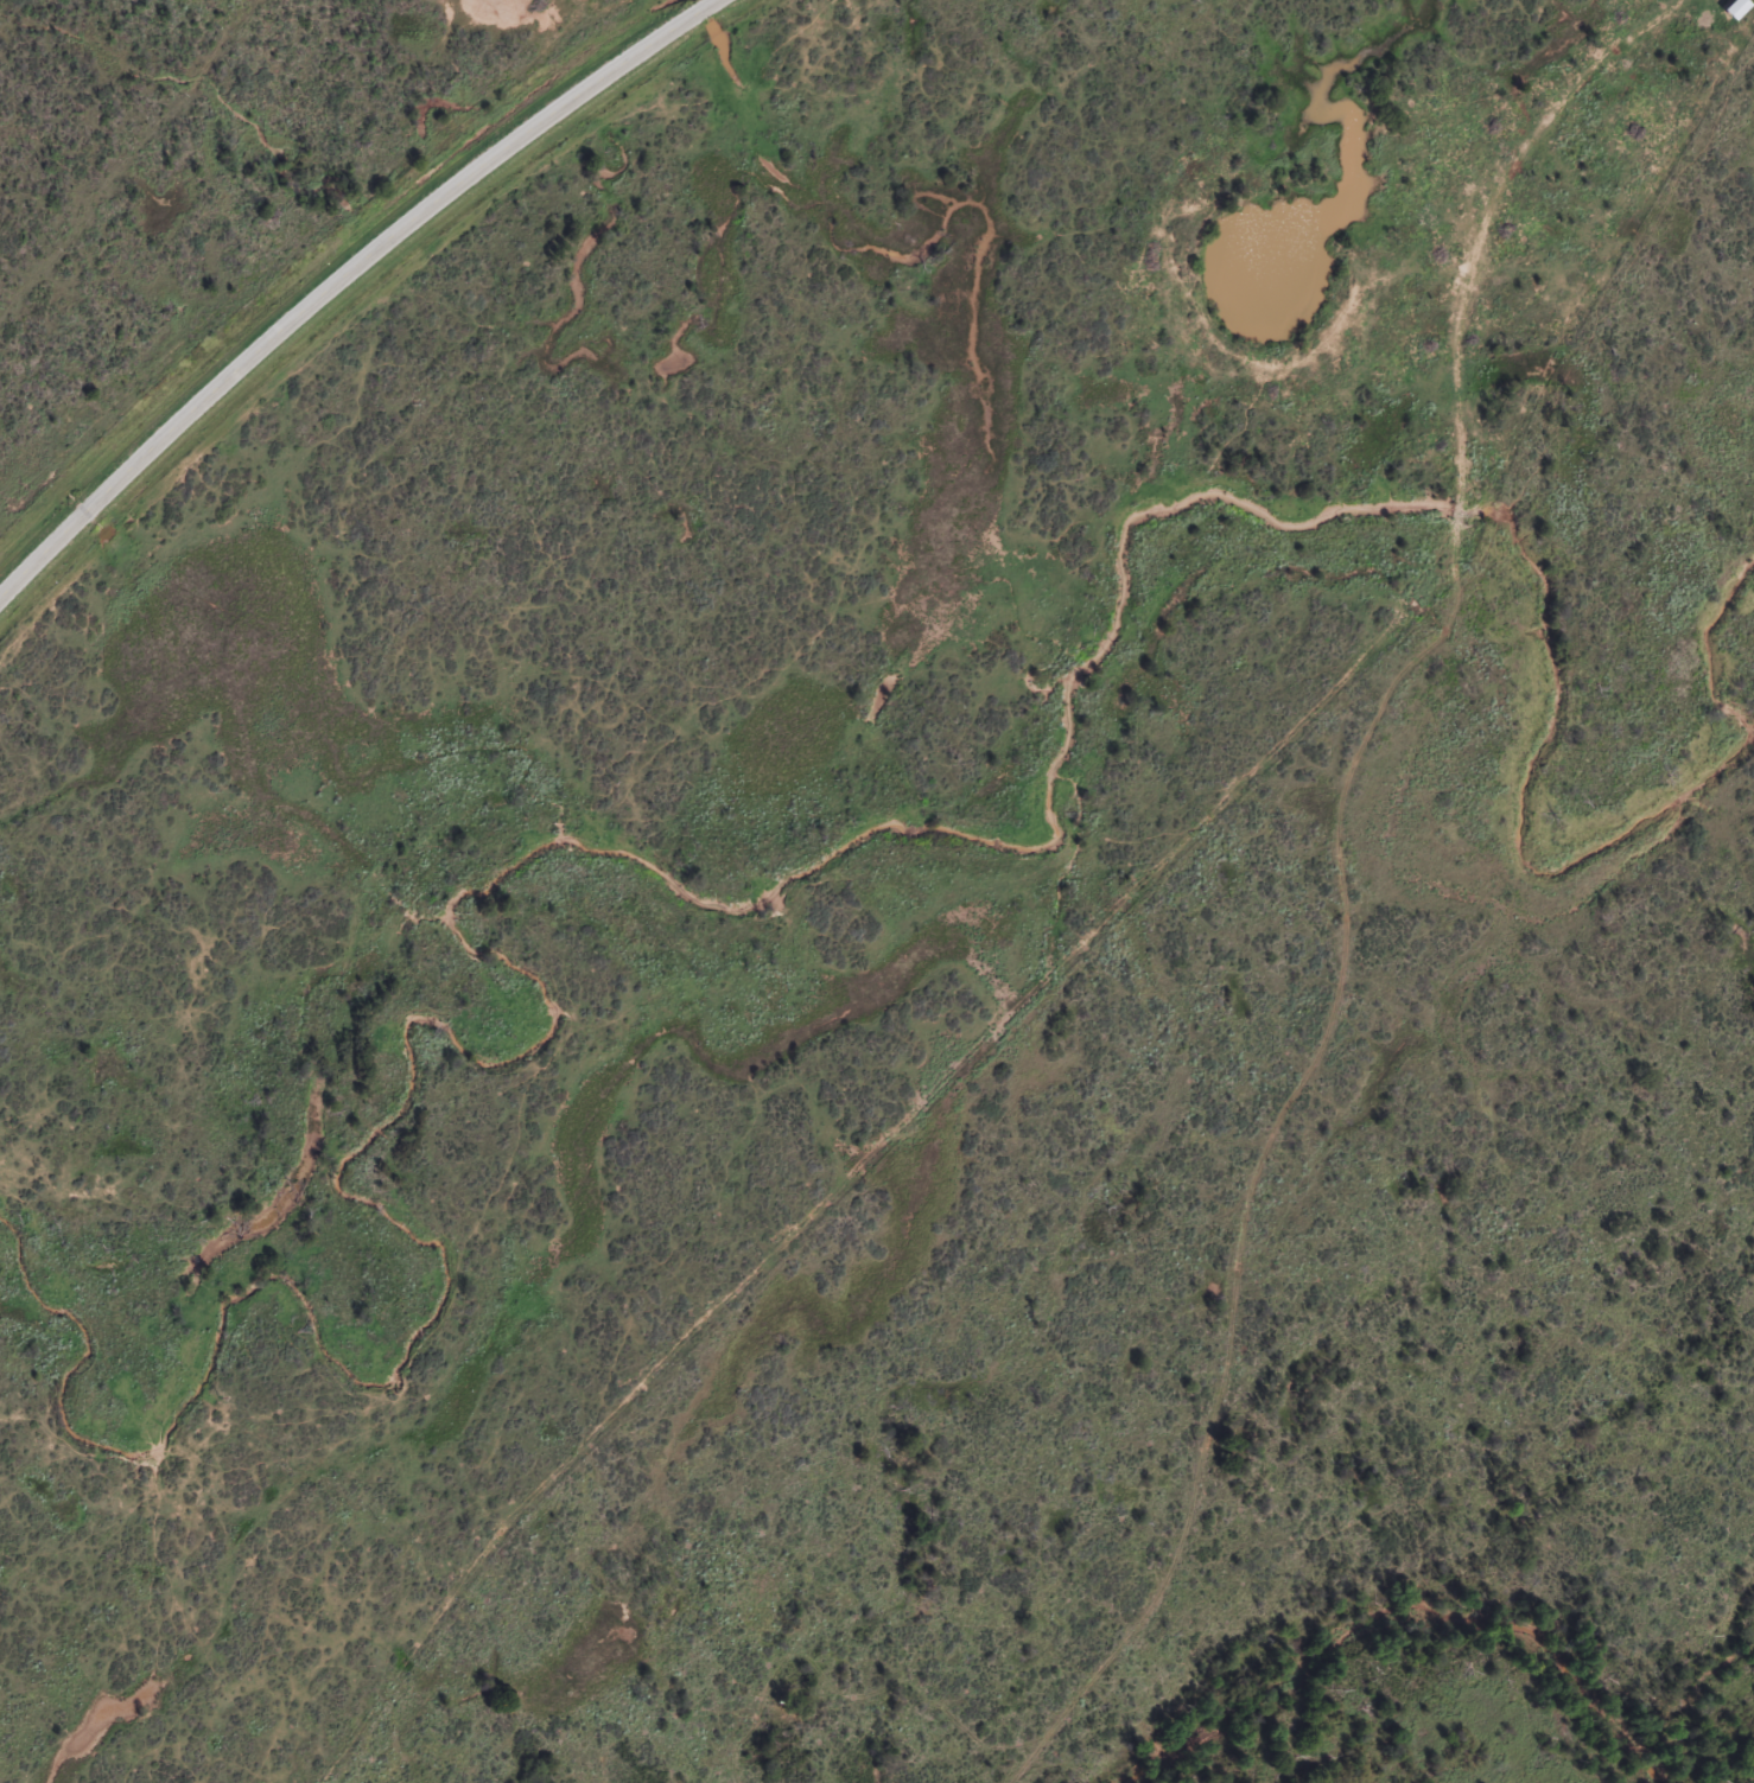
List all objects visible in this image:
building: (1736, 8)
road: (345, 275)
road: (1321, 883)

